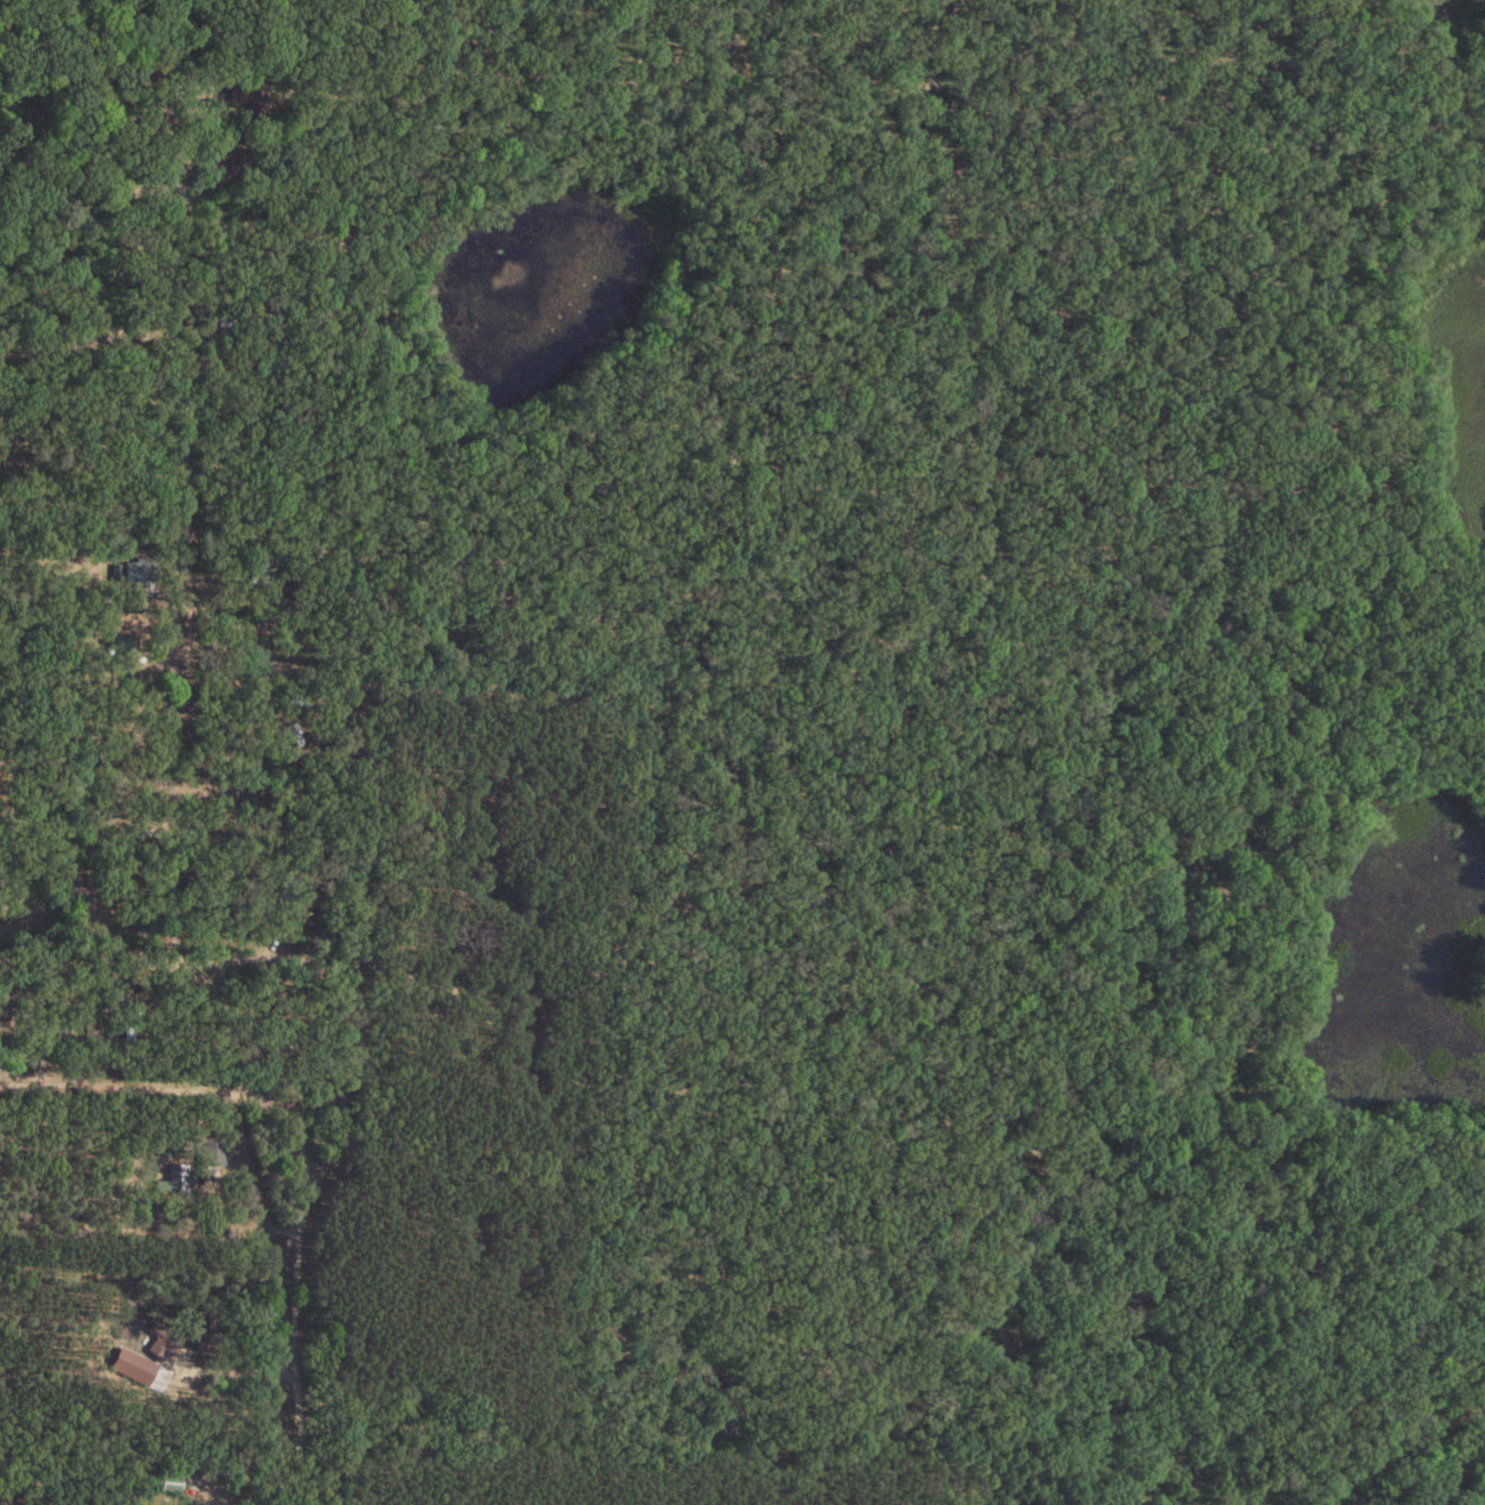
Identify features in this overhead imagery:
road: (953, 392)
building: (136, 571)
road: (152, 744)
road: (171, 928)
road: (345, 1038)
road: (163, 1057)
road: (288, 1309)

